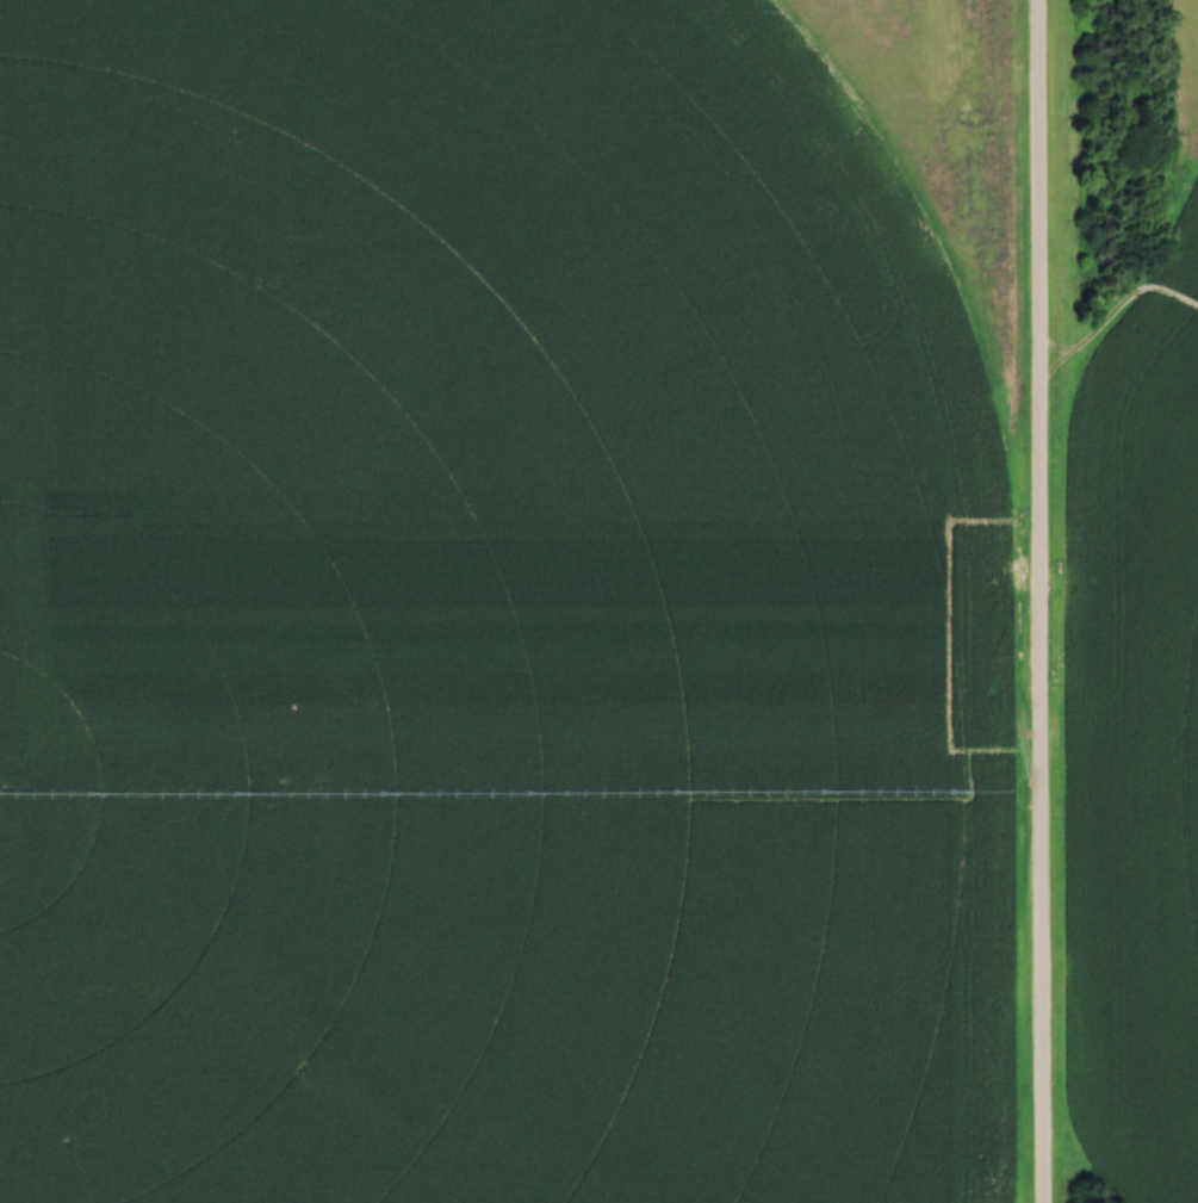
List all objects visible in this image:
road: (1051, 601)

